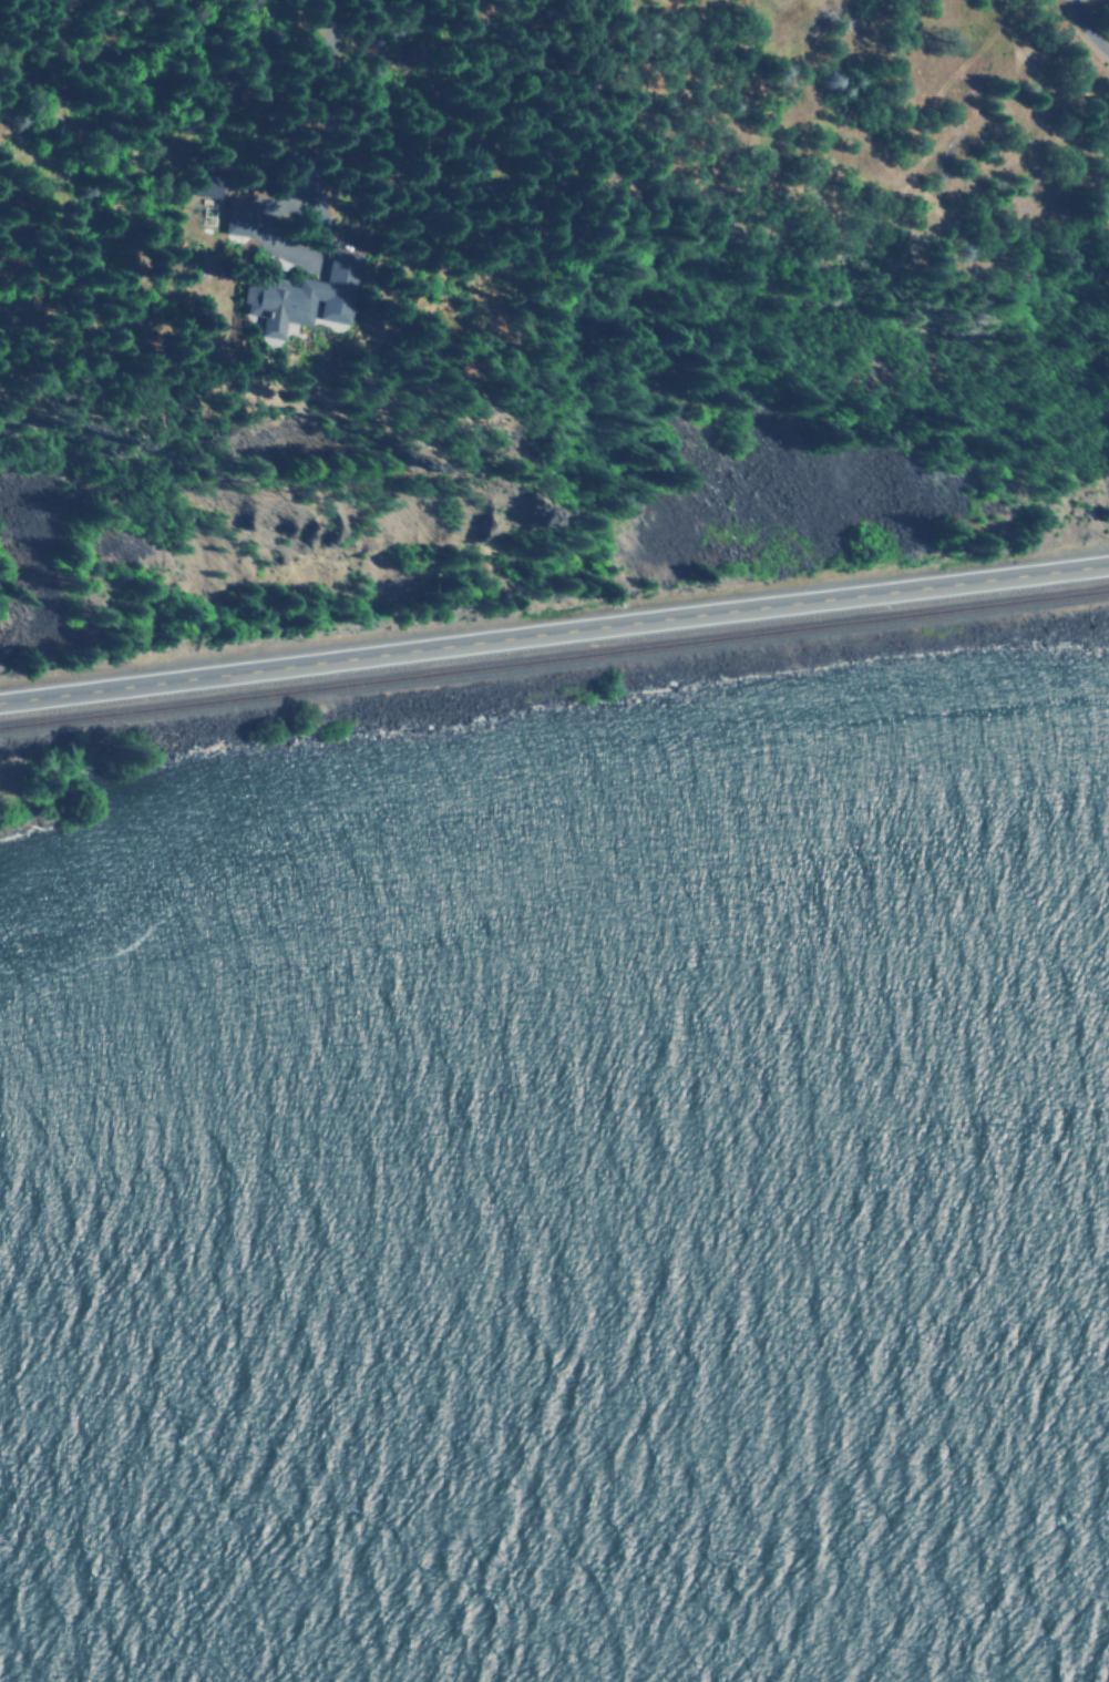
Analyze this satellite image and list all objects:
road: (554, 633)
railway: (554, 655)

